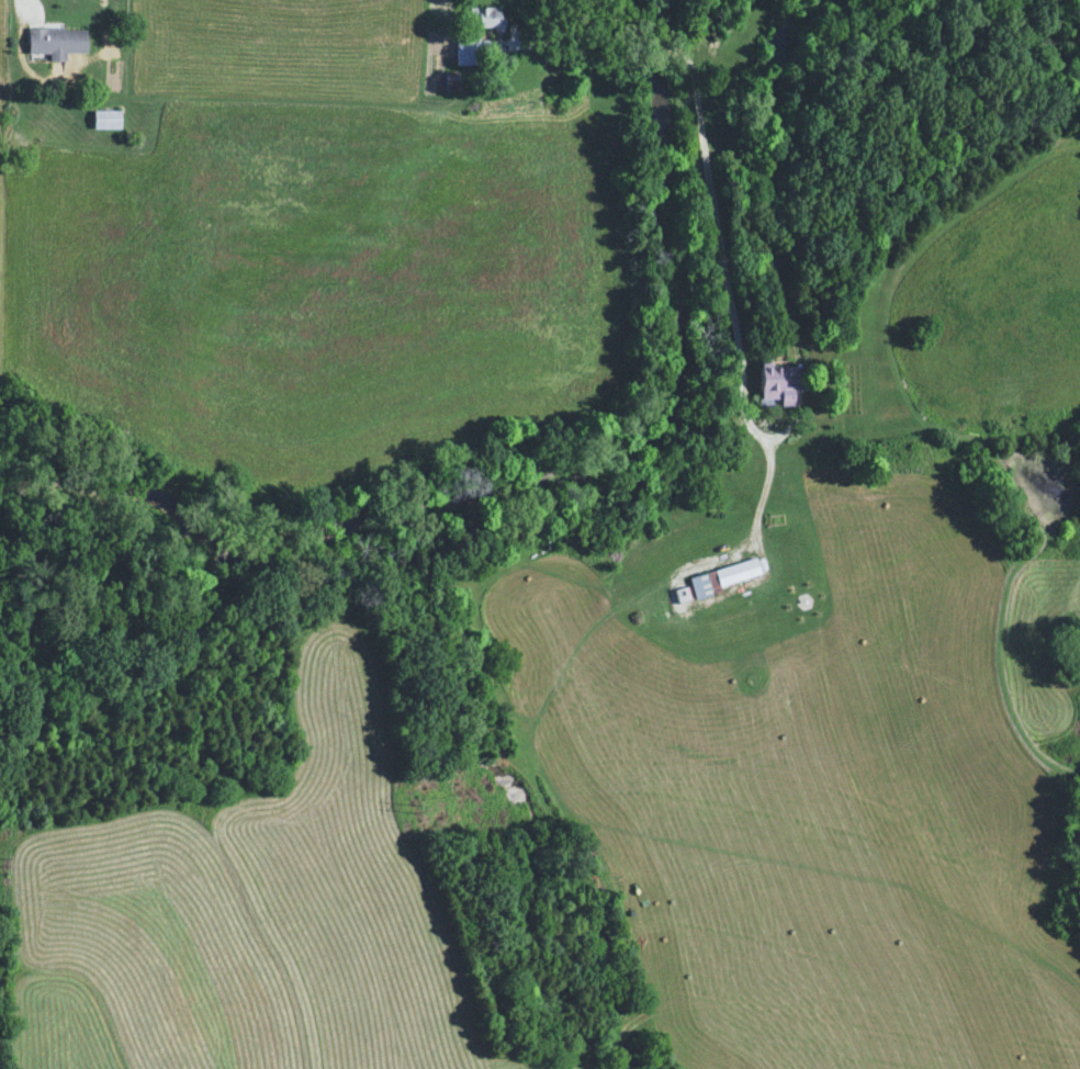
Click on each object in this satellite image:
road: (35, 12)
building: (484, 20)
building: (57, 44)
building: (468, 53)
building: (106, 122)
road: (720, 250)
building: (780, 385)
building: (724, 579)
power tower: (412, 806)

